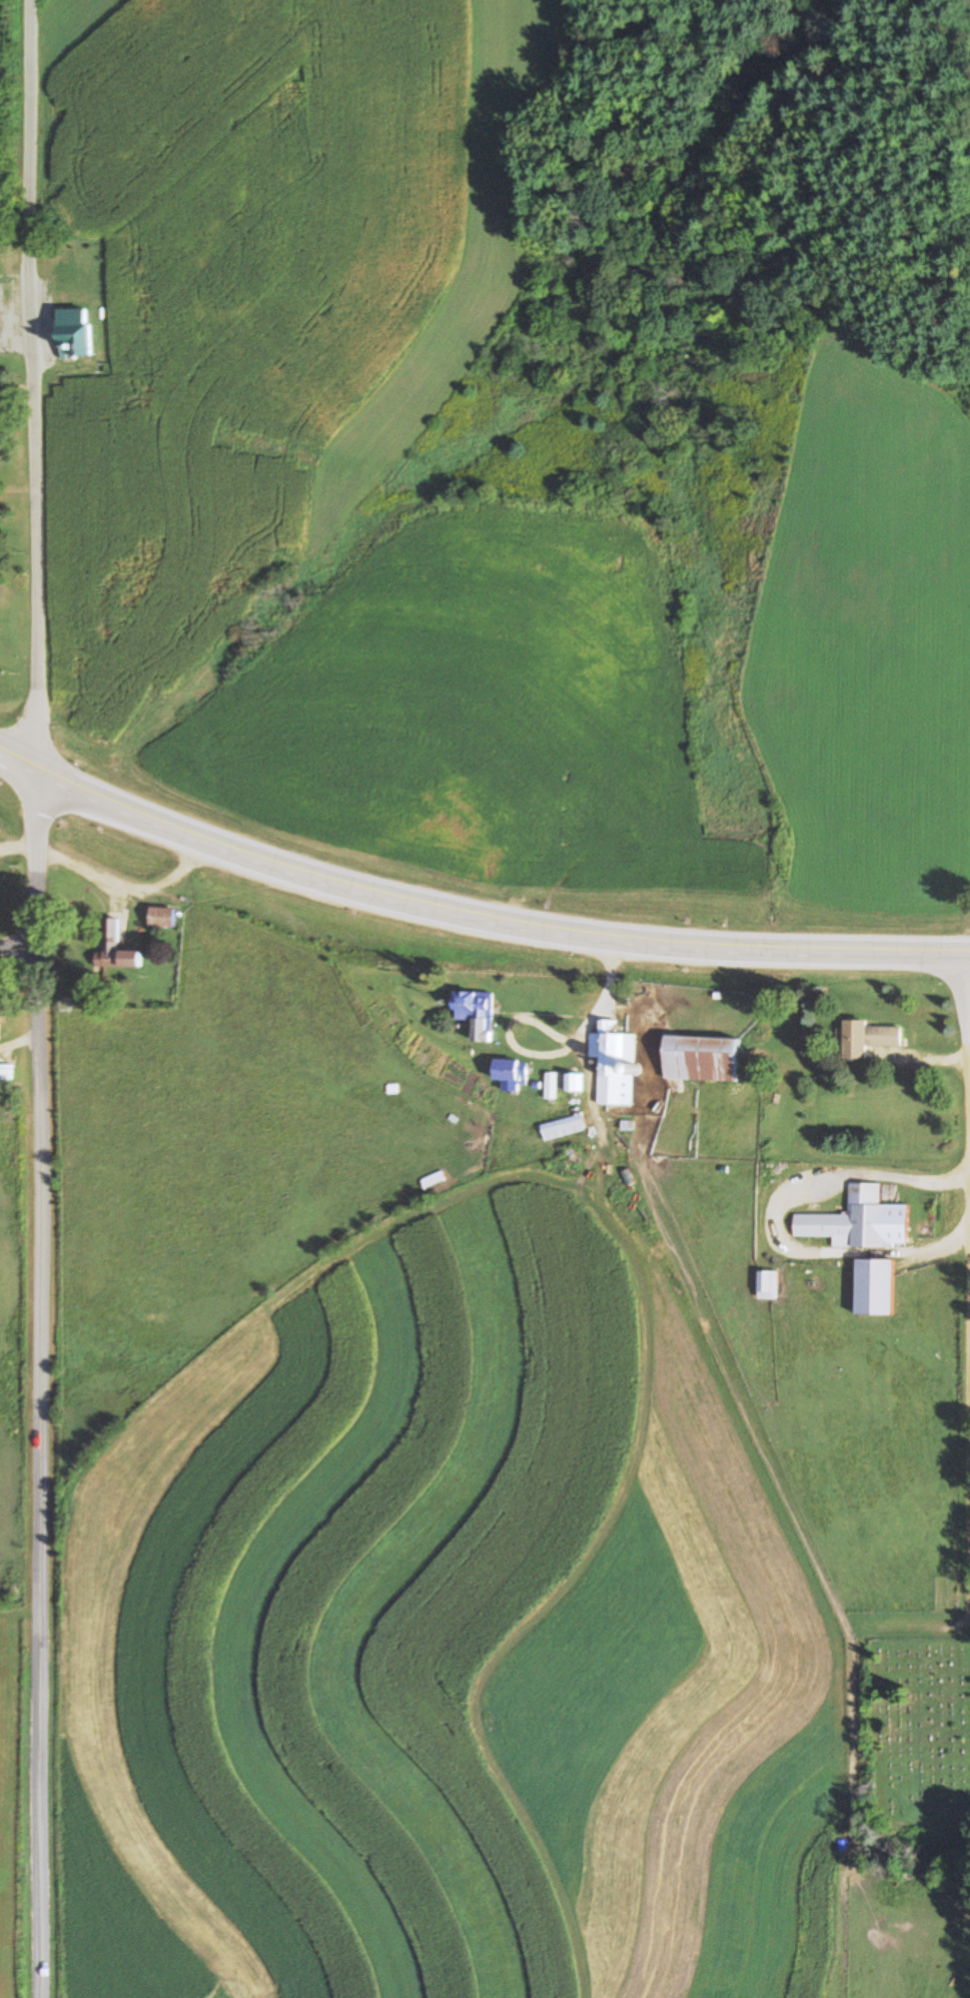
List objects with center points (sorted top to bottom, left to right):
building: (74, 325)
road: (35, 383)
road: (128, 880)
road: (472, 911)
building: (160, 918)
building: (114, 948)
road: (19, 950)
building: (477, 1012)
road: (969, 1017)
building: (868, 1030)
building: (701, 1059)
building: (613, 1060)
building: (512, 1069)
building: (7, 1075)
building: (574, 1082)
building: (552, 1086)
building: (538, 1092)
building: (562, 1125)
road: (42, 1220)
building: (852, 1224)
building: (766, 1286)
building: (873, 1288)
road: (967, 1478)
road: (40, 1836)

